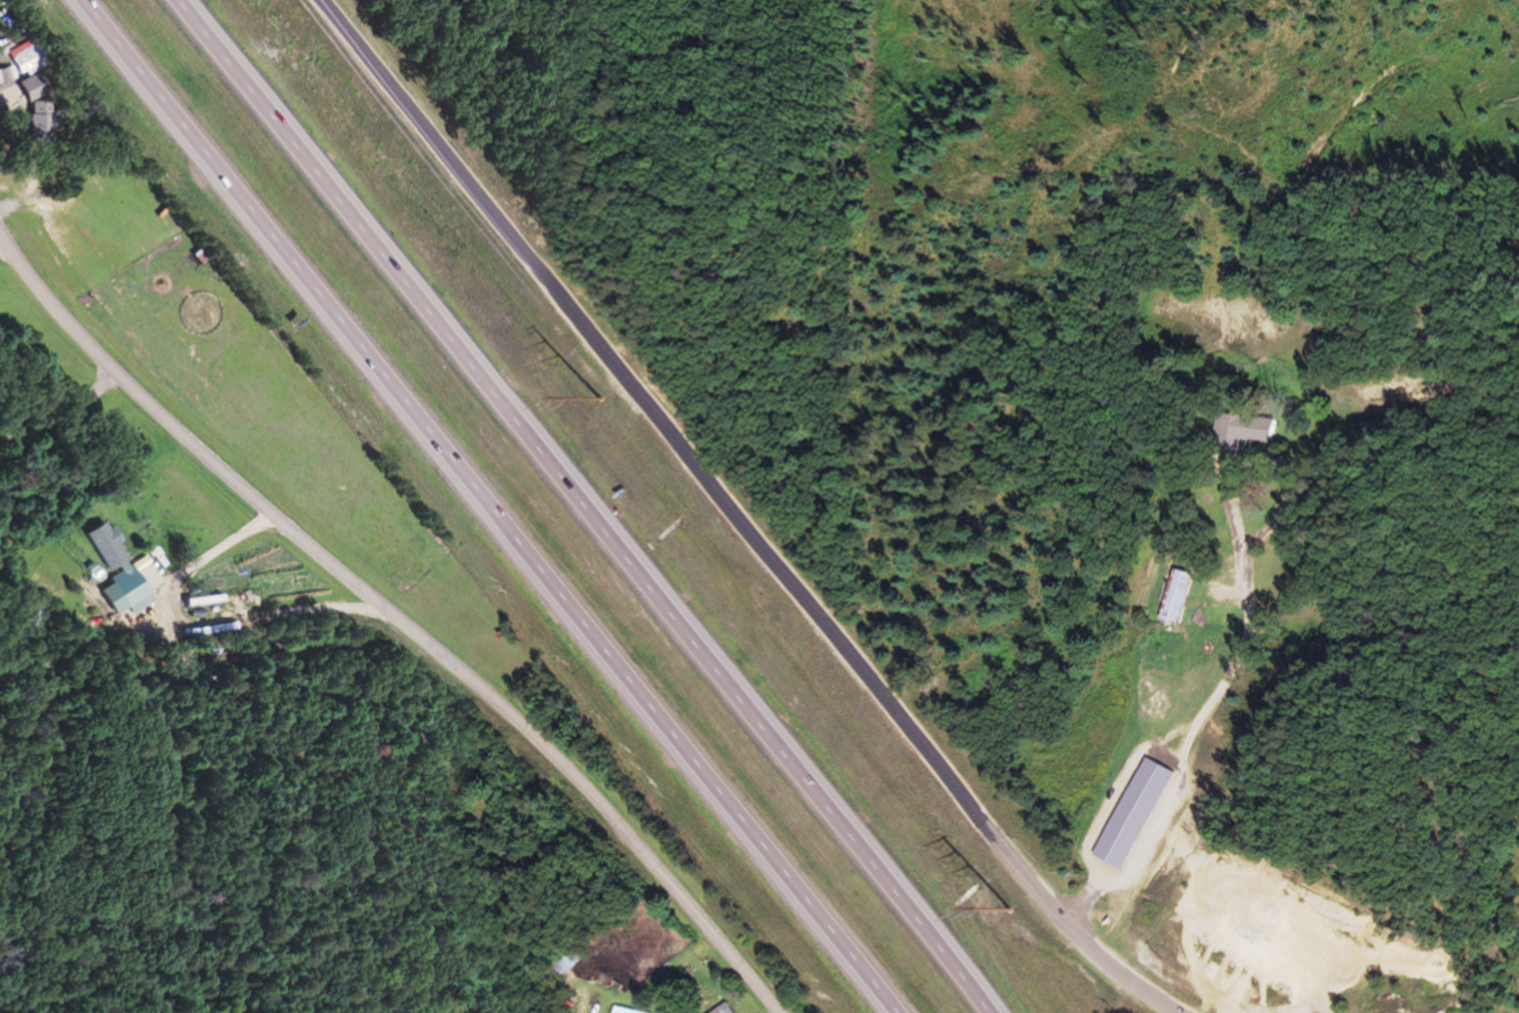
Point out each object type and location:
building: (35, 61)
building: (10, 76)
building: (45, 107)
road: (1, 248)
power tower: (599, 397)
building: (1238, 432)
road: (490, 503)
road: (595, 509)
road: (729, 516)
building: (1170, 596)
road: (400, 619)
road: (1226, 729)
power tower: (1010, 907)
building: (563, 962)
building: (722, 1009)
building: (618, 1011)

